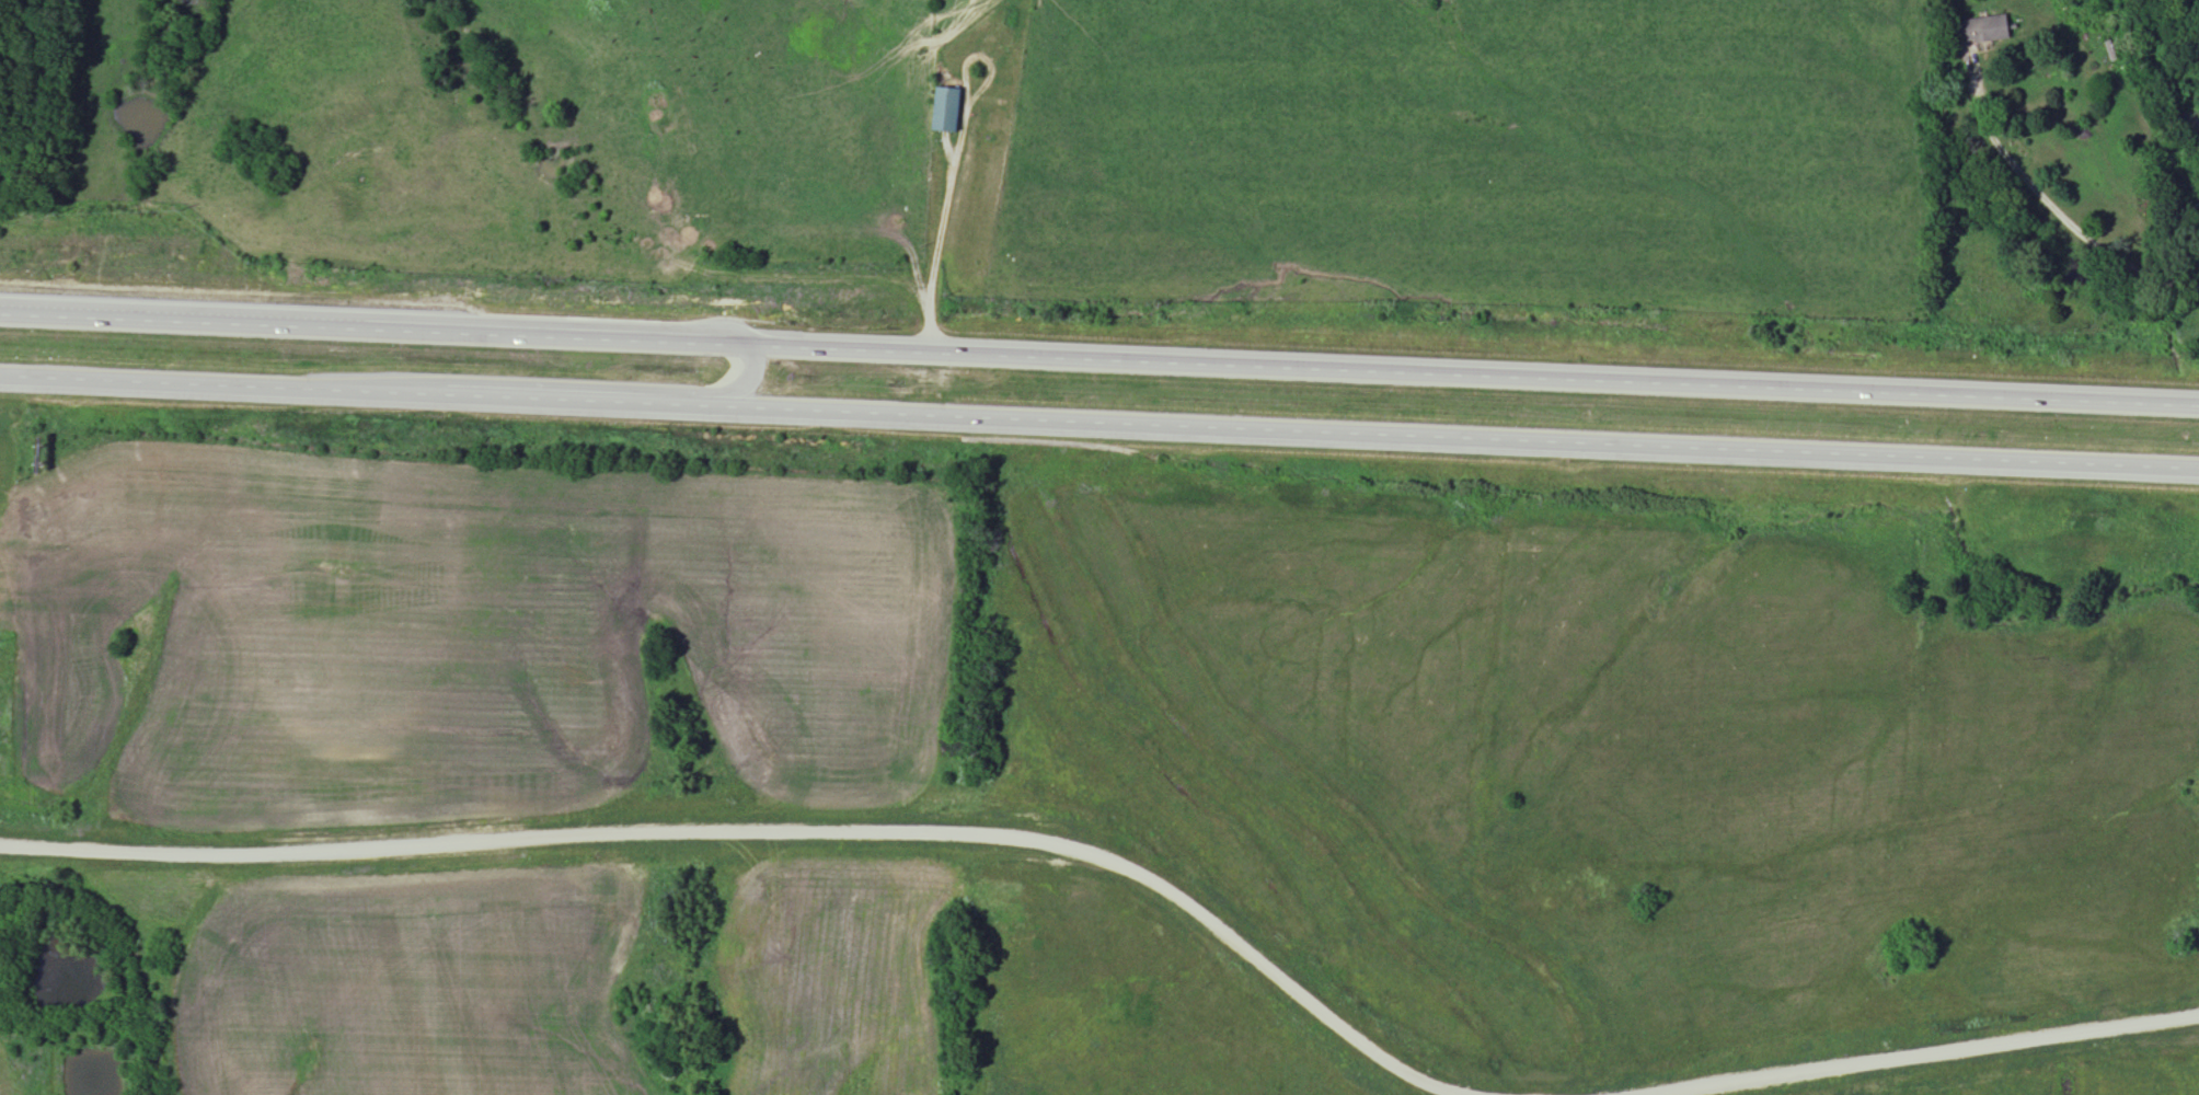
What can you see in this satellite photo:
building: (1984, 31)
building: (947, 111)
road: (2049, 207)
road: (937, 227)
road: (1099, 364)
road: (508, 379)
building: (392, 399)
road: (1098, 430)
crop: (459, 632)
road: (769, 828)
crop: (828, 978)
crop: (412, 987)
road: (1931, 1058)
crop: (4, 1065)

